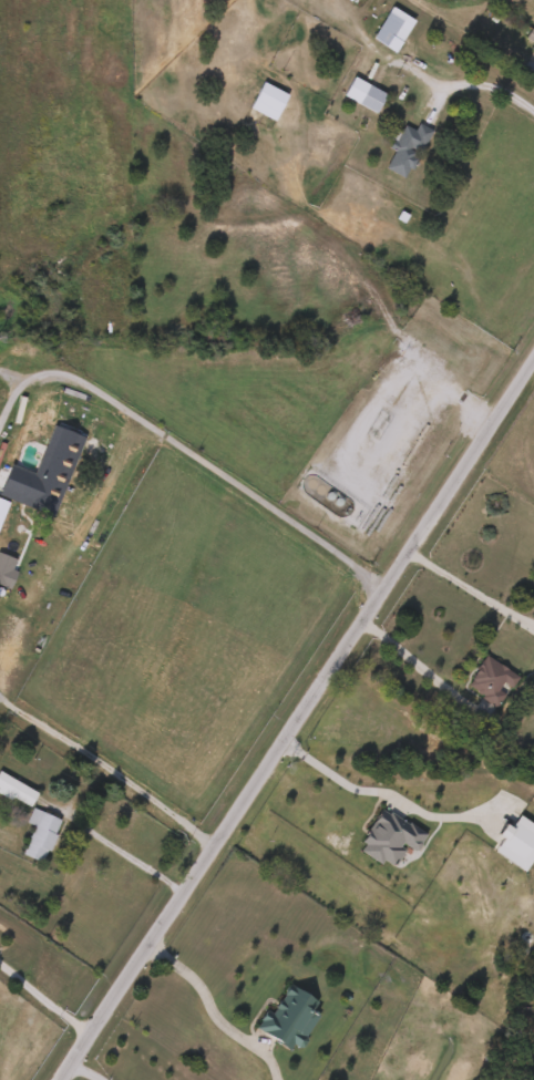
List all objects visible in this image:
building: (389, 29)
building: (530, 33)
building: (532, 47)
road: (491, 90)
building: (361, 94)
building: (265, 101)
building: (403, 150)
road: (188, 457)
building: (41, 479)
building: (1, 503)
road: (66, 534)
building: (4, 569)
road: (408, 662)
building: (489, 681)
road: (295, 717)
road: (107, 762)
building: (14, 791)
road: (381, 794)
building: (37, 834)
building: (387, 837)
building: (516, 843)
road: (113, 850)
road: (41, 1004)
road: (209, 1012)
building: (287, 1017)
road: (79, 1072)

